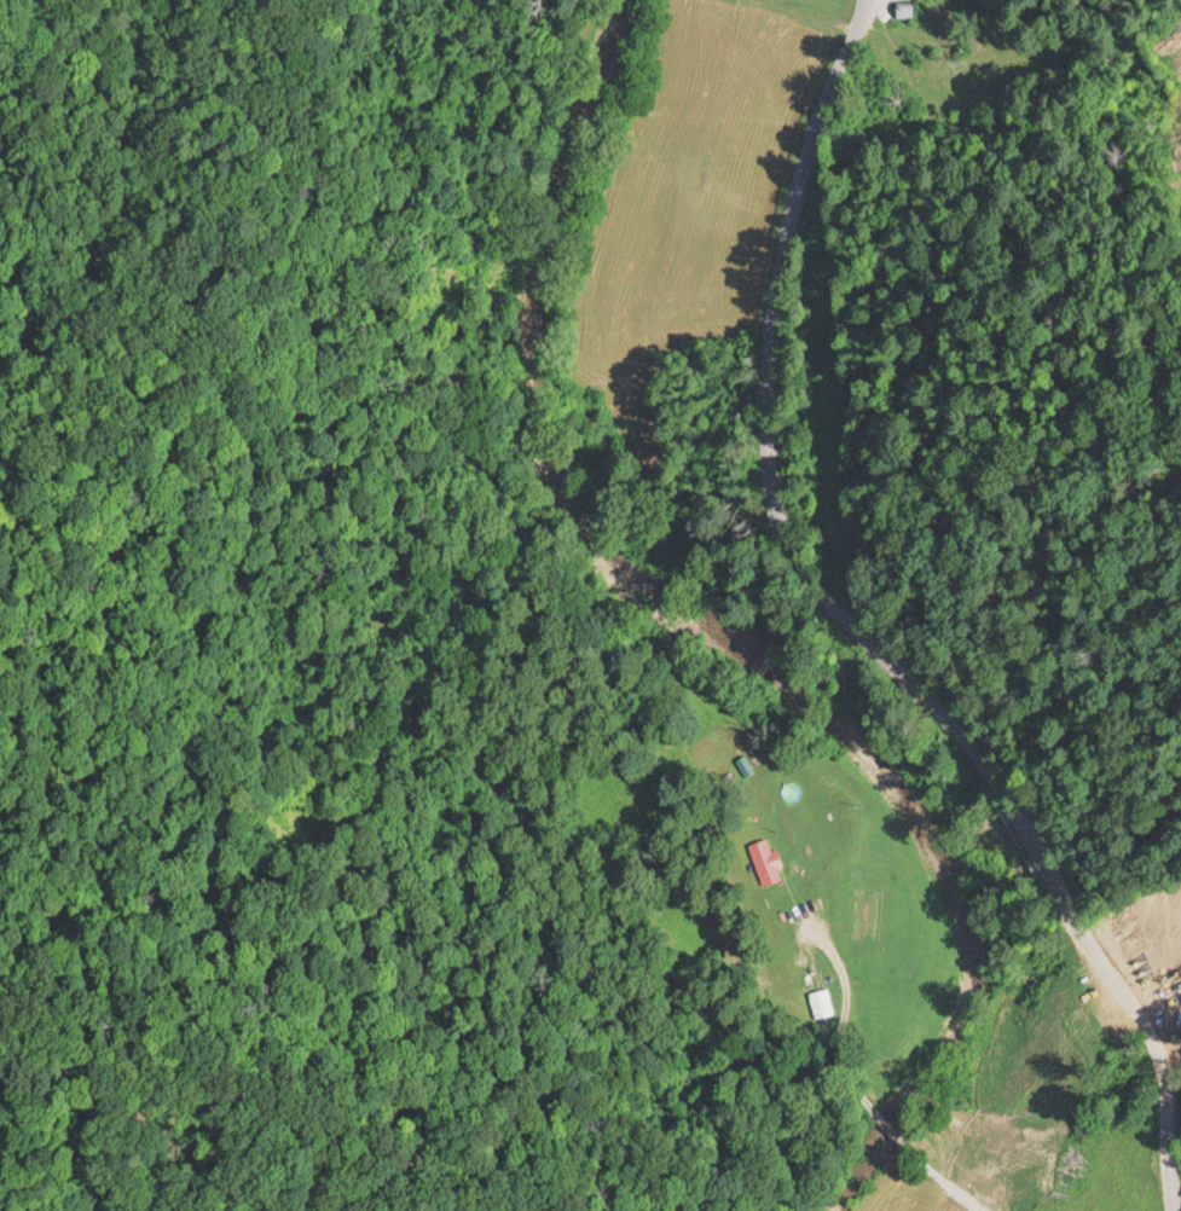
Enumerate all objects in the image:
building: (903, 7)
road: (861, 632)
river: (719, 637)
building: (763, 858)
building: (818, 1001)

